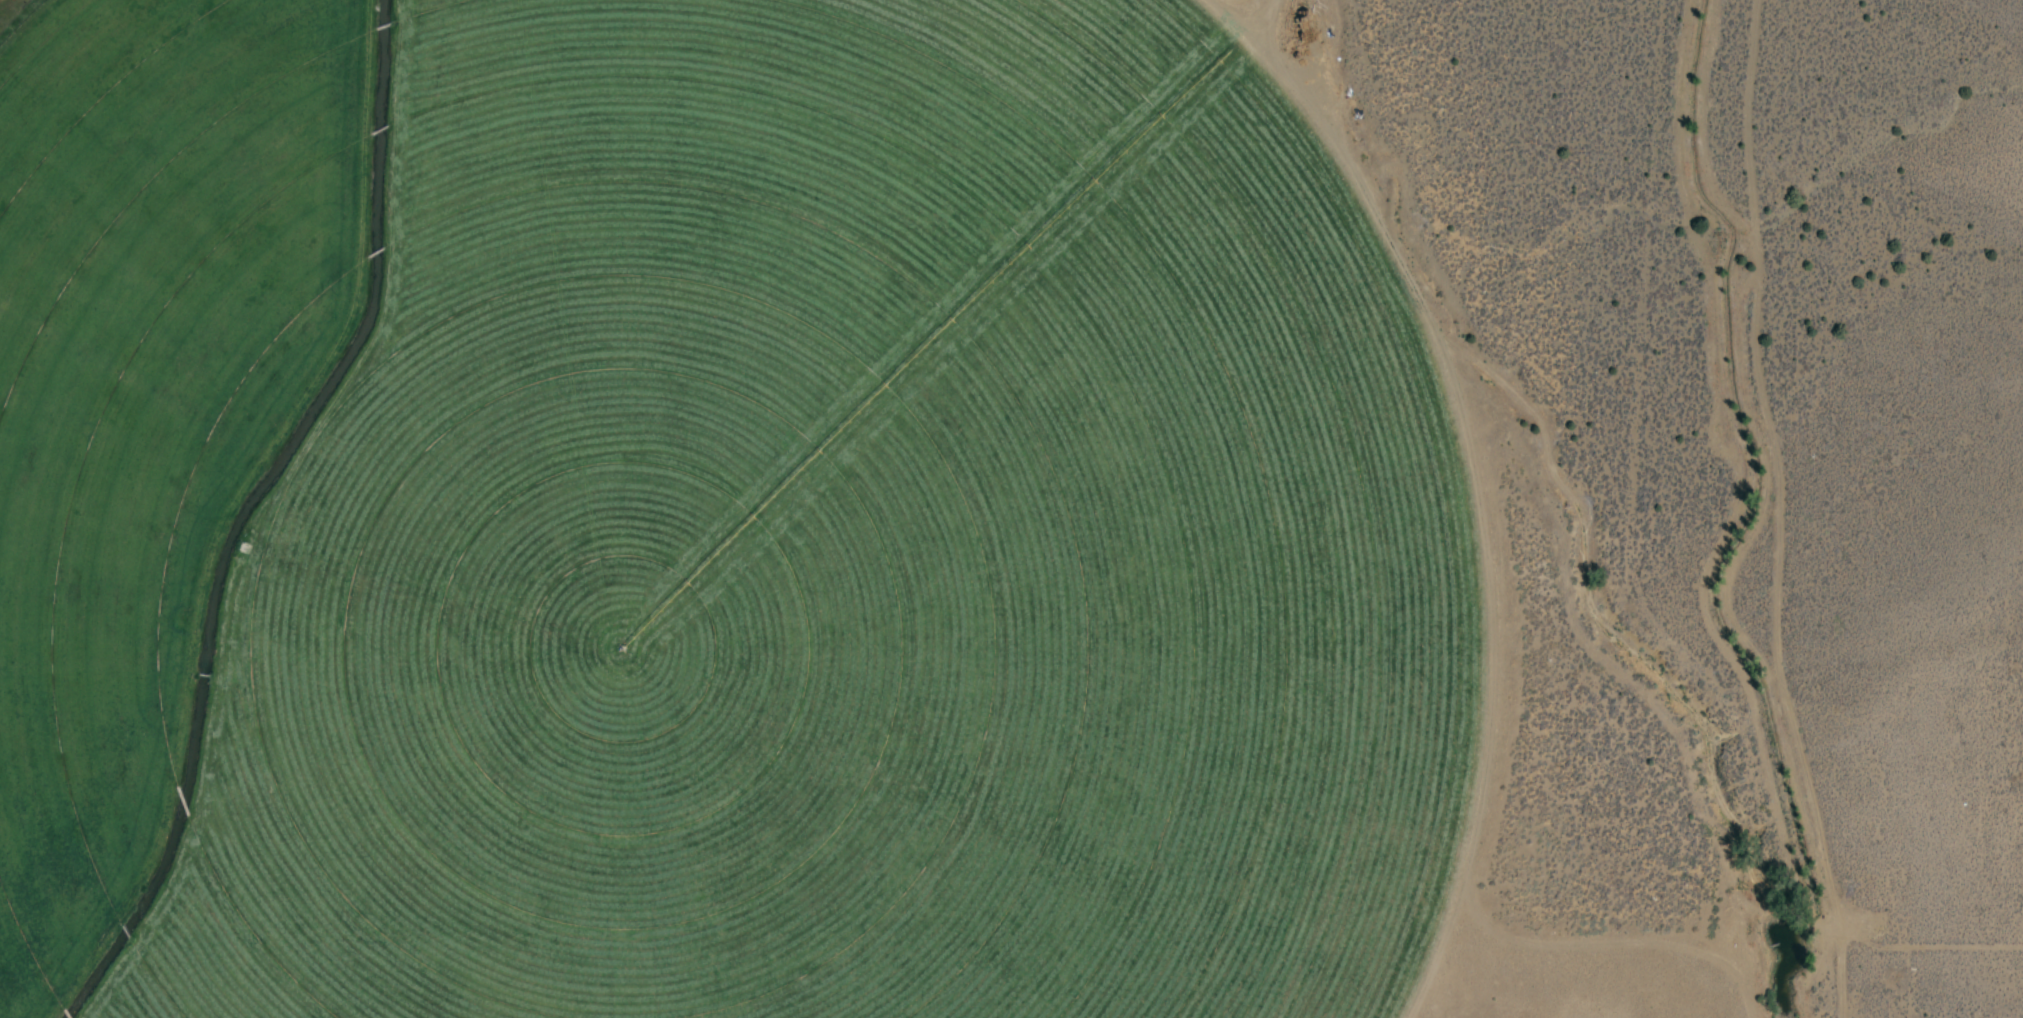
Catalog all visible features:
crop: (706, 520)

